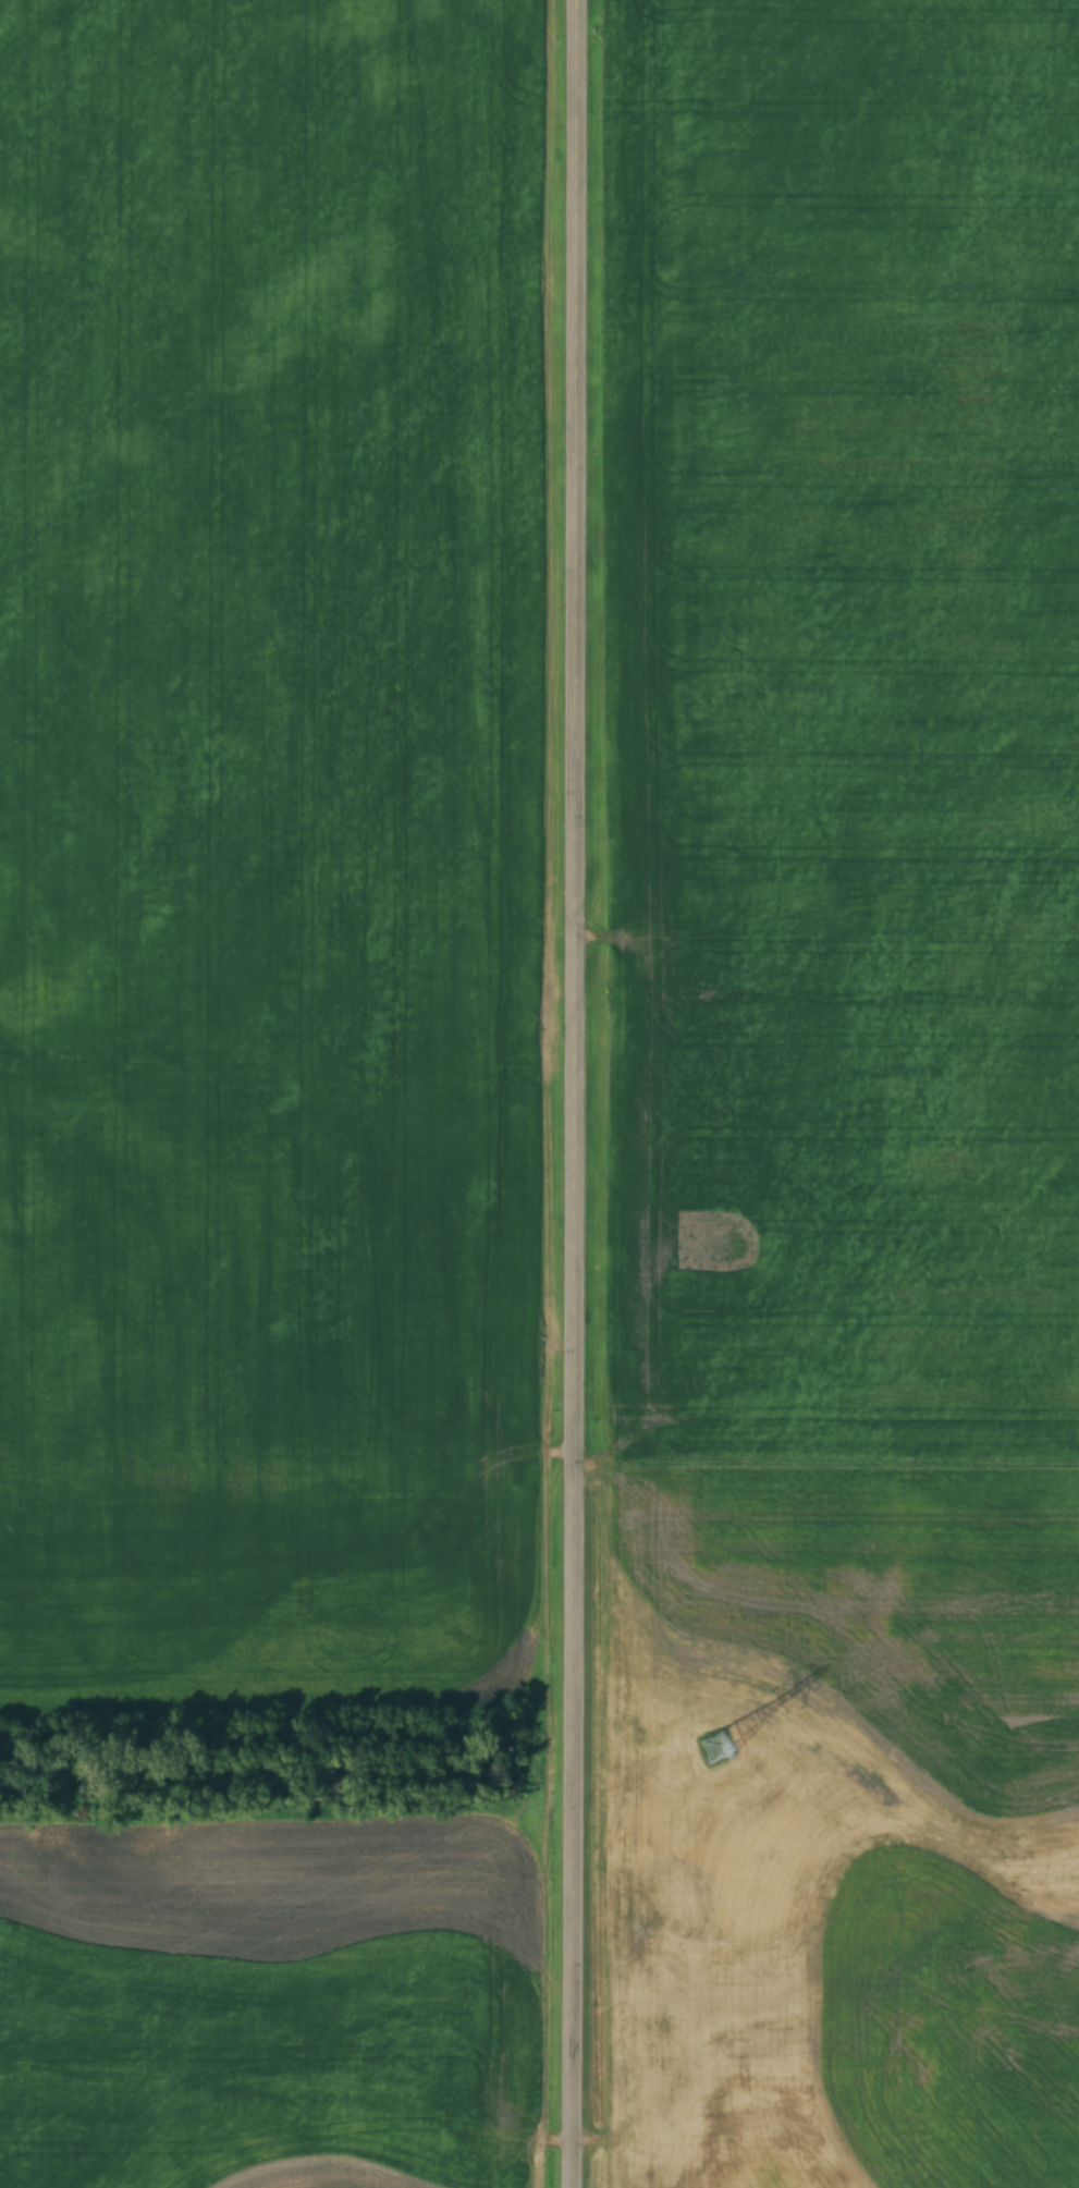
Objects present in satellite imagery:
road: (575, 1093)
power tower: (713, 1748)

